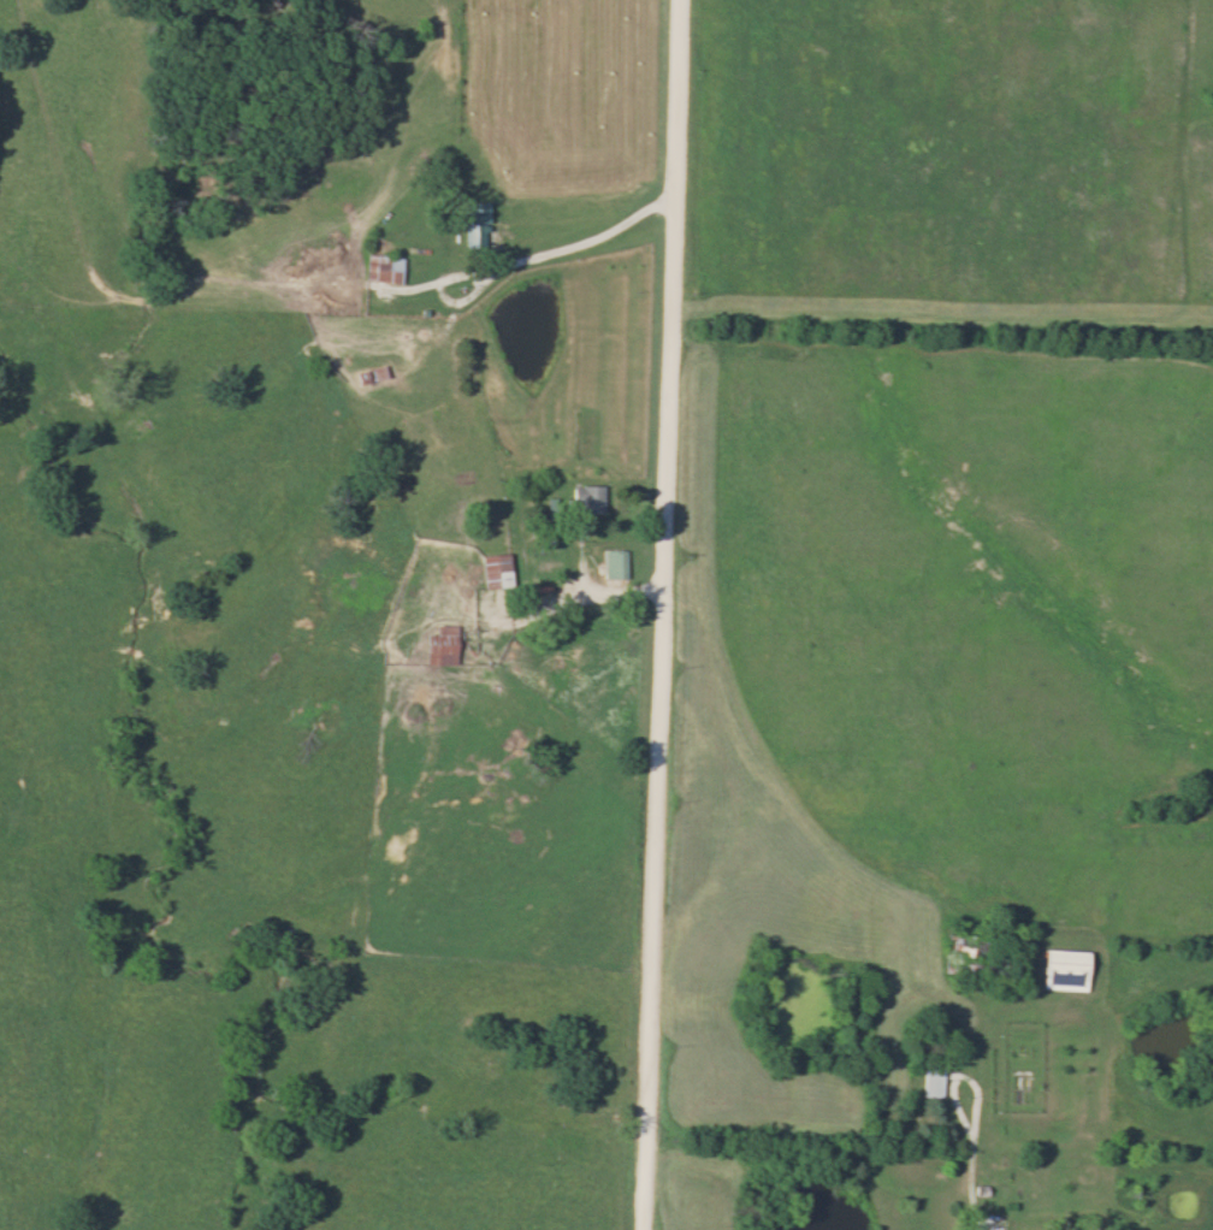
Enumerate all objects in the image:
road: (515, 260)
building: (381, 270)
building: (371, 375)
building: (585, 499)
building: (613, 564)
building: (493, 572)
road: (662, 615)
building: (439, 646)
building: (1063, 970)
building: (930, 1083)

